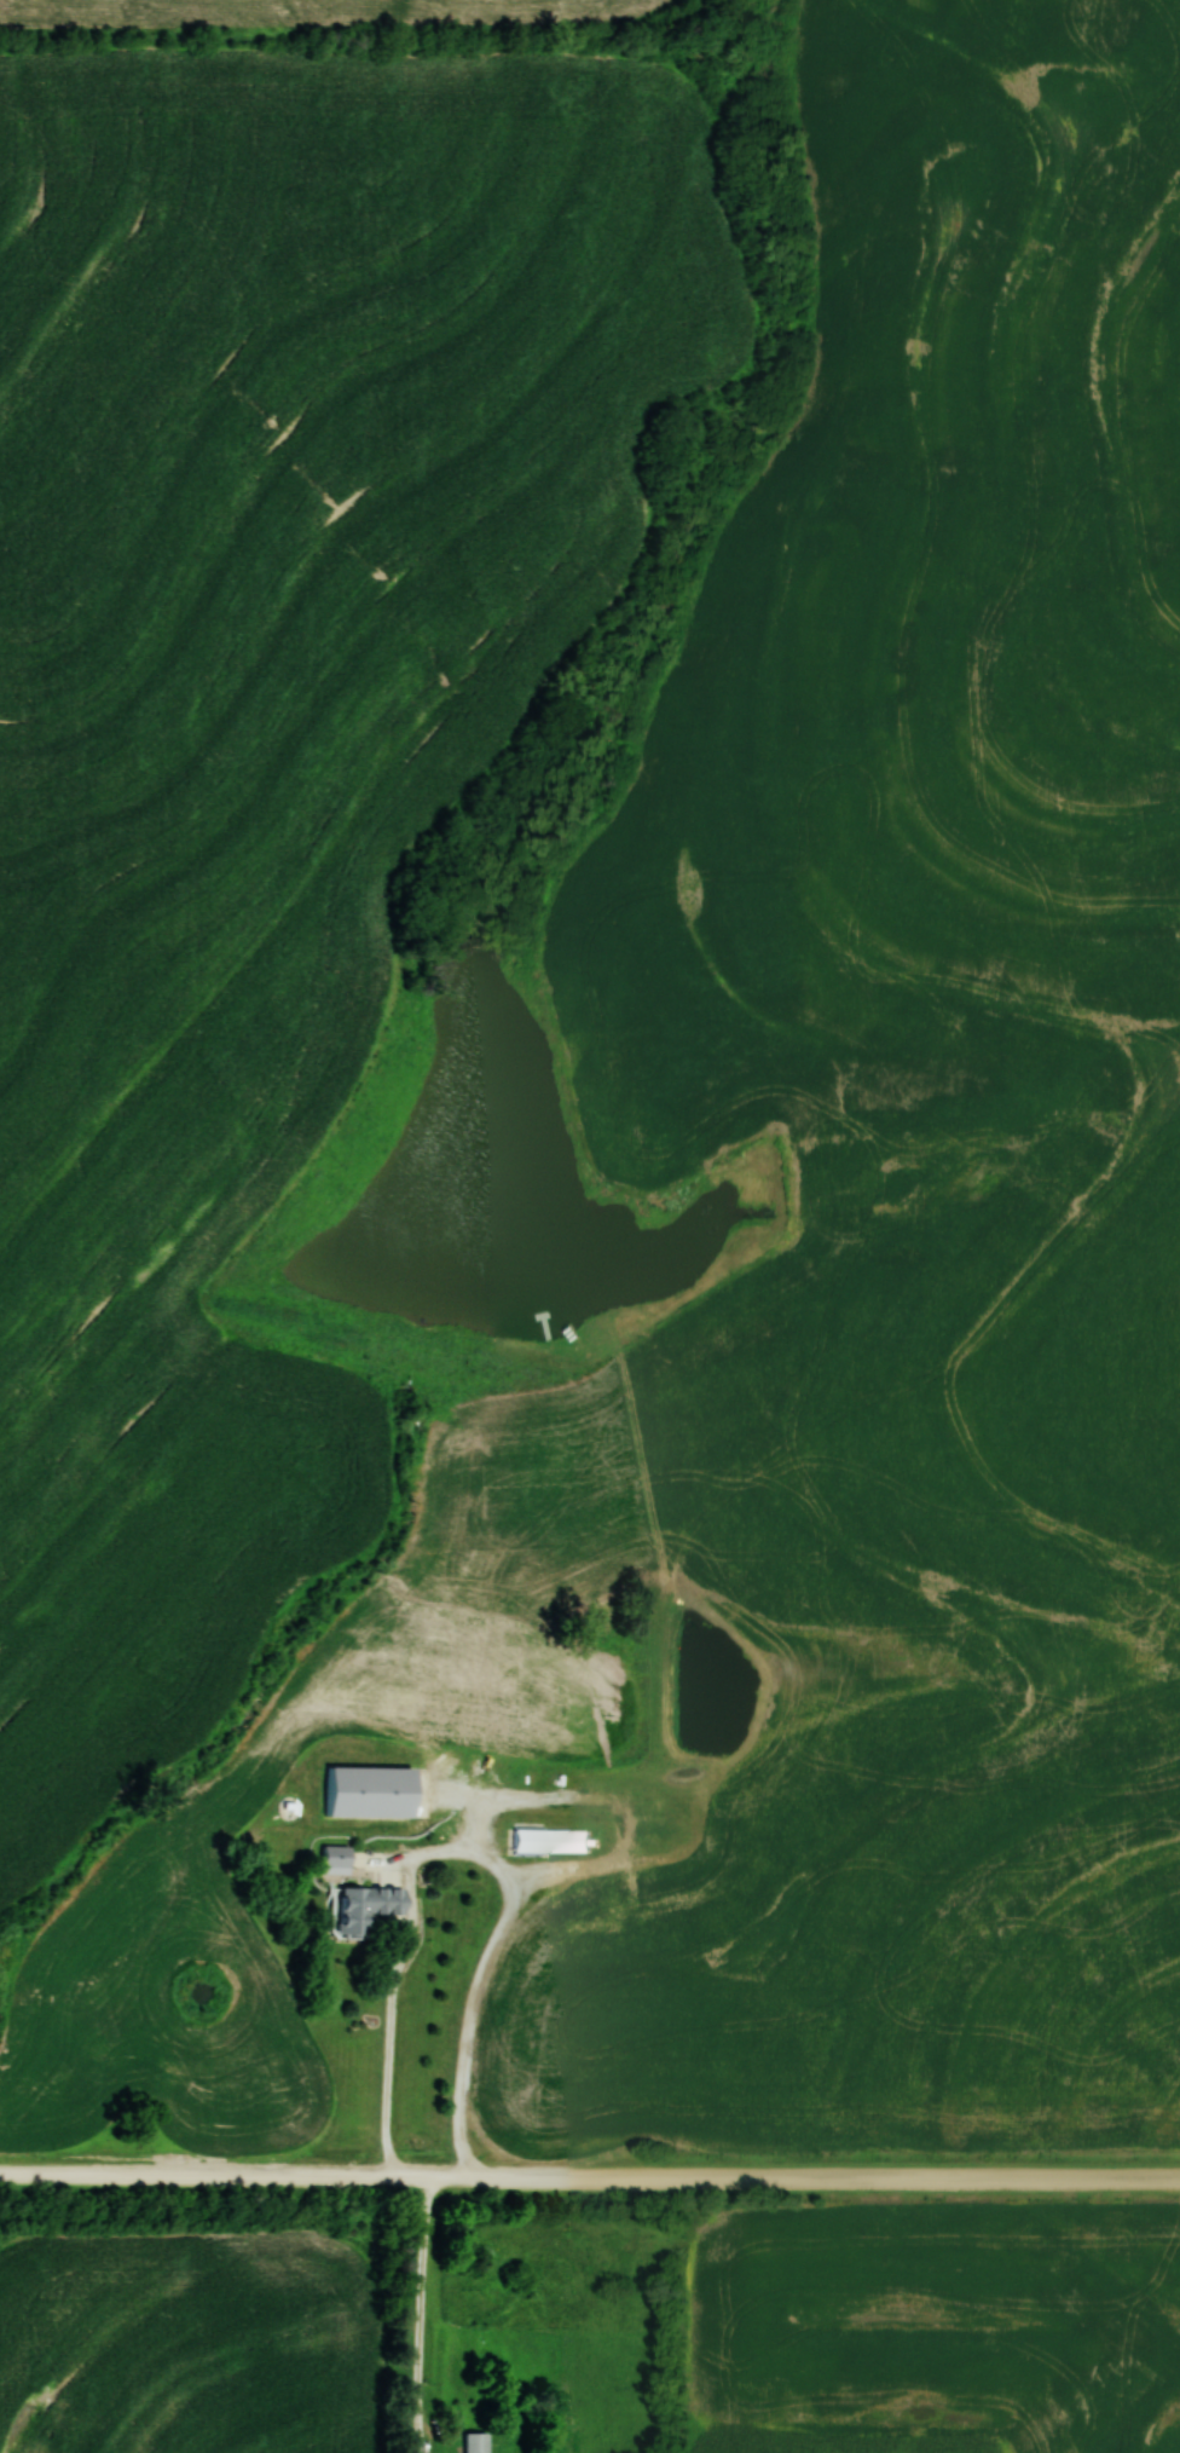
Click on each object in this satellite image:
building: (374, 1791)
building: (553, 1841)
building: (370, 1906)
road: (590, 2175)
building: (476, 2441)

